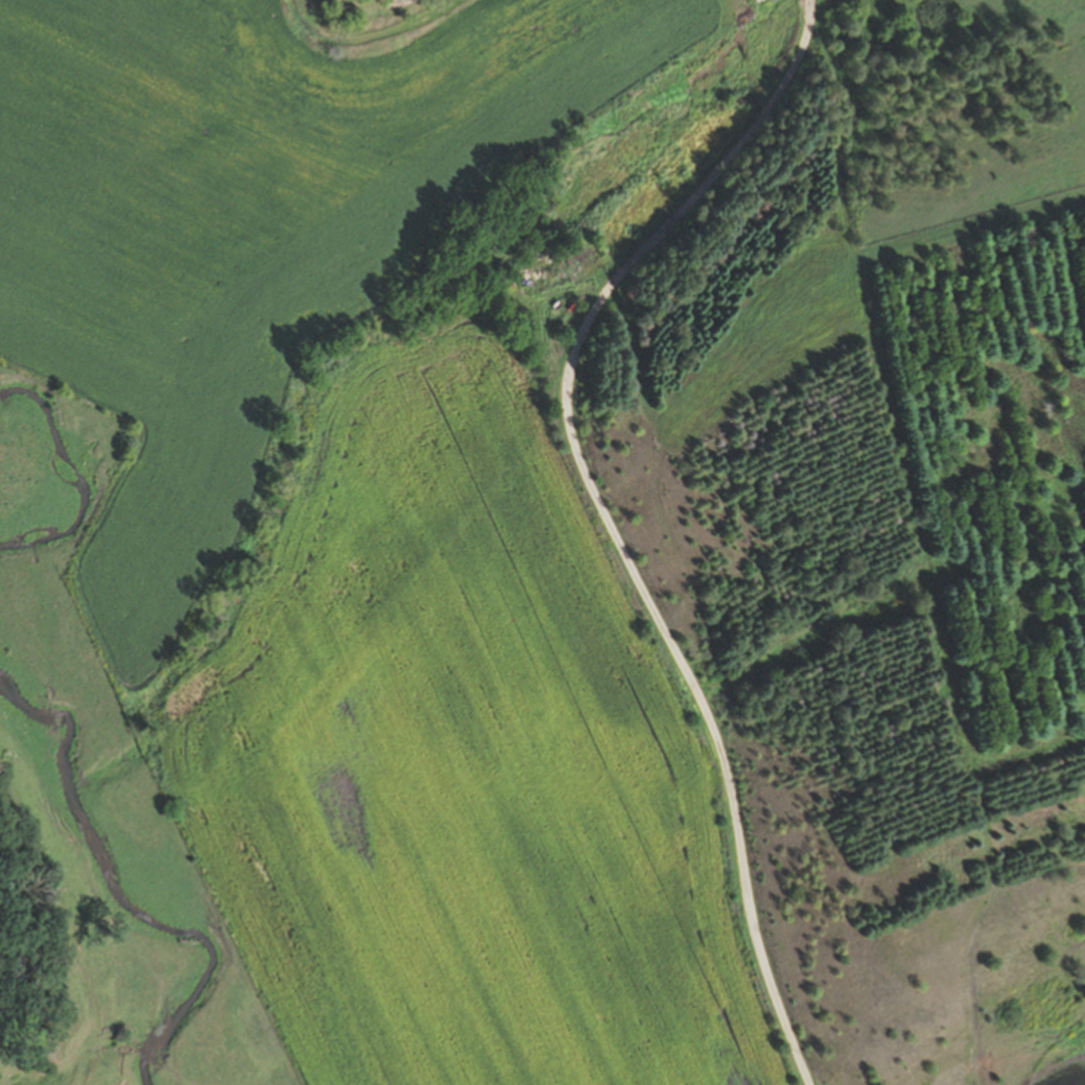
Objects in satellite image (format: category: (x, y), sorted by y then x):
road: (589, 508)

